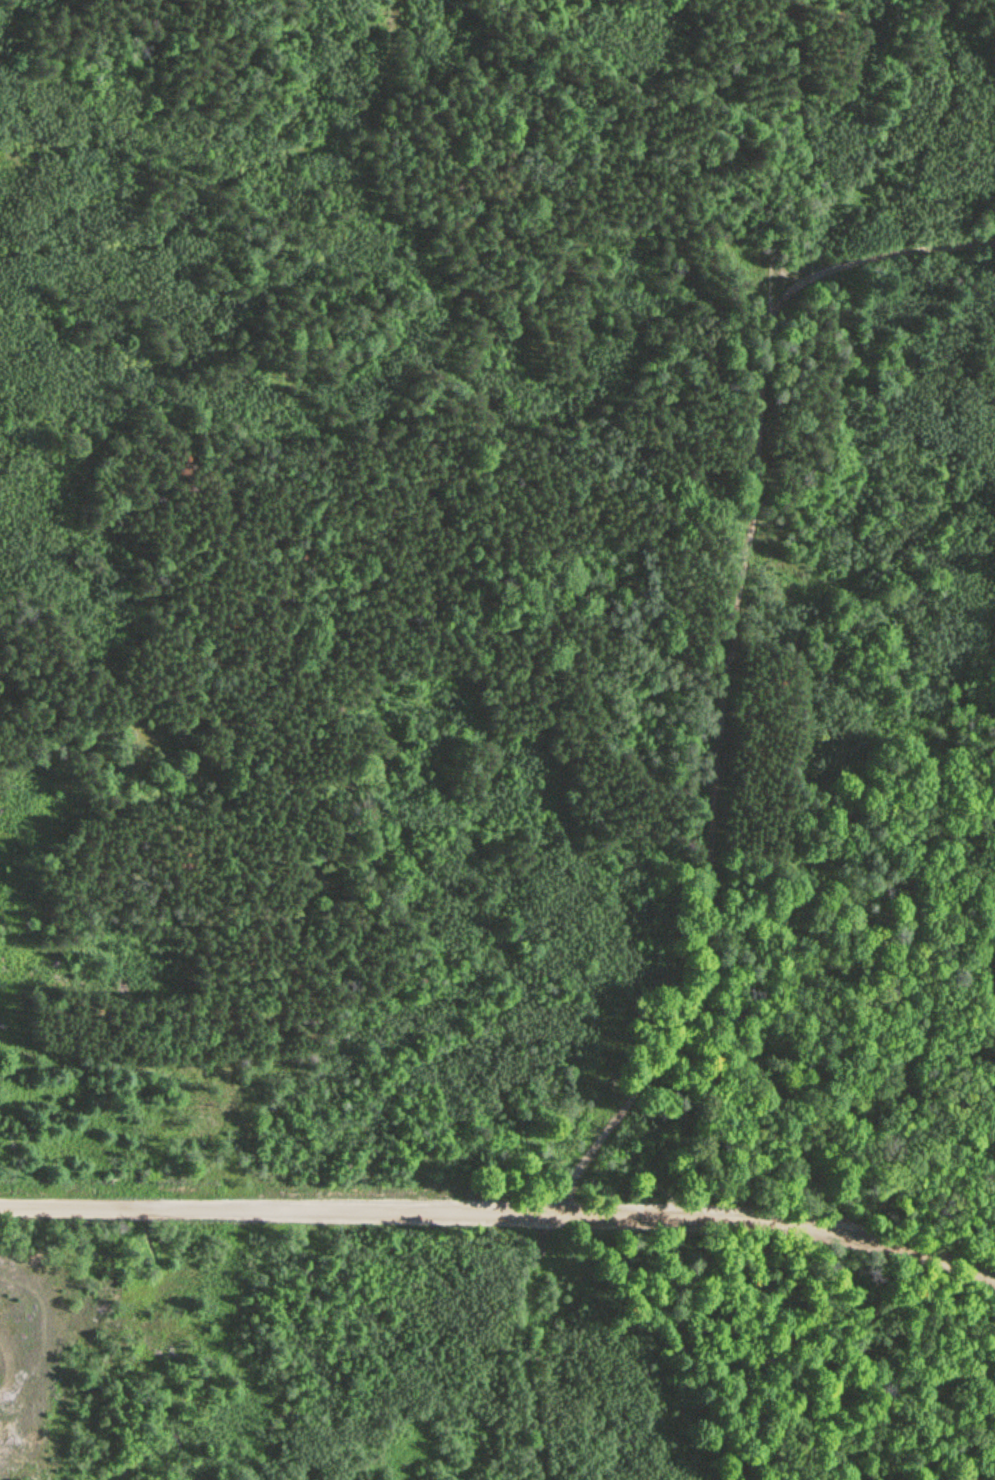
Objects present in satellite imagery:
road: (877, 256)
road: (730, 627)
road: (276, 1208)
road: (776, 1220)
road: (519, 1344)

